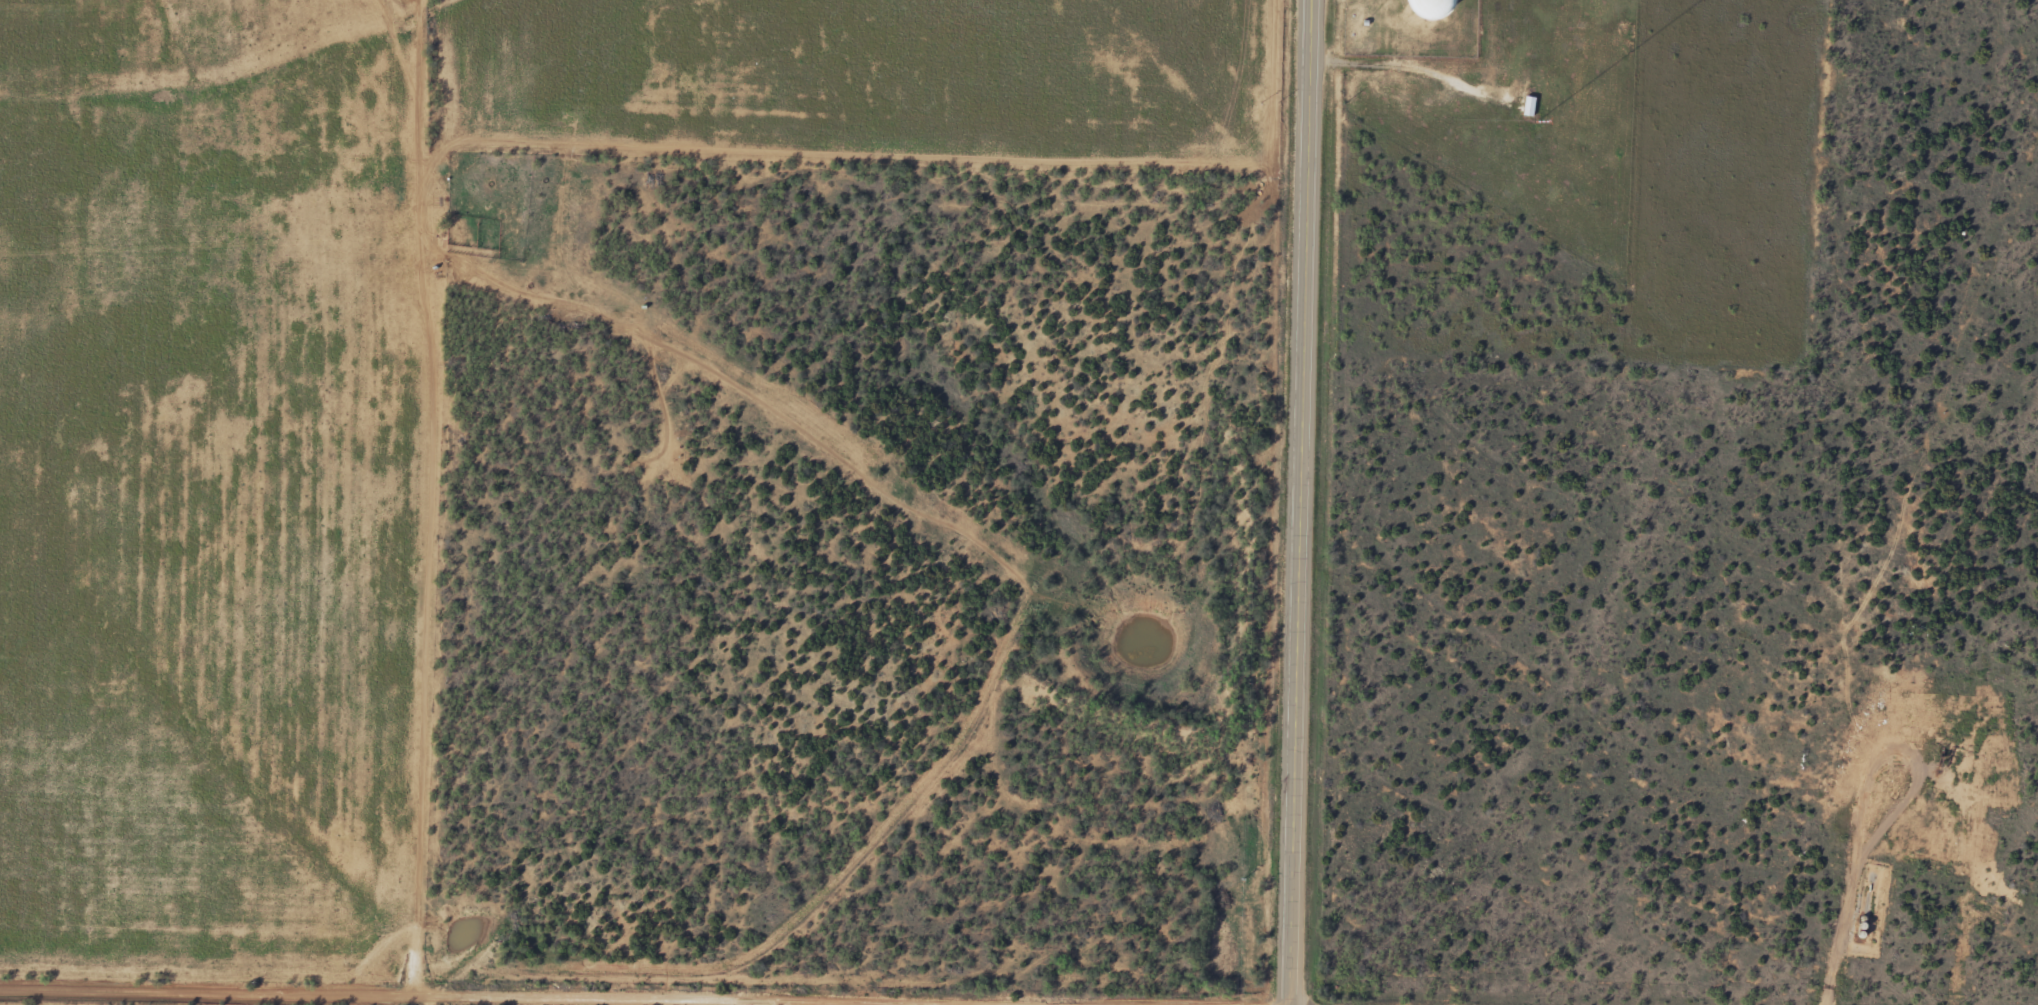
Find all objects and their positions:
building: (1409, 7)
building: (1529, 107)
road: (1306, 502)
road: (415, 574)
road: (549, 992)

